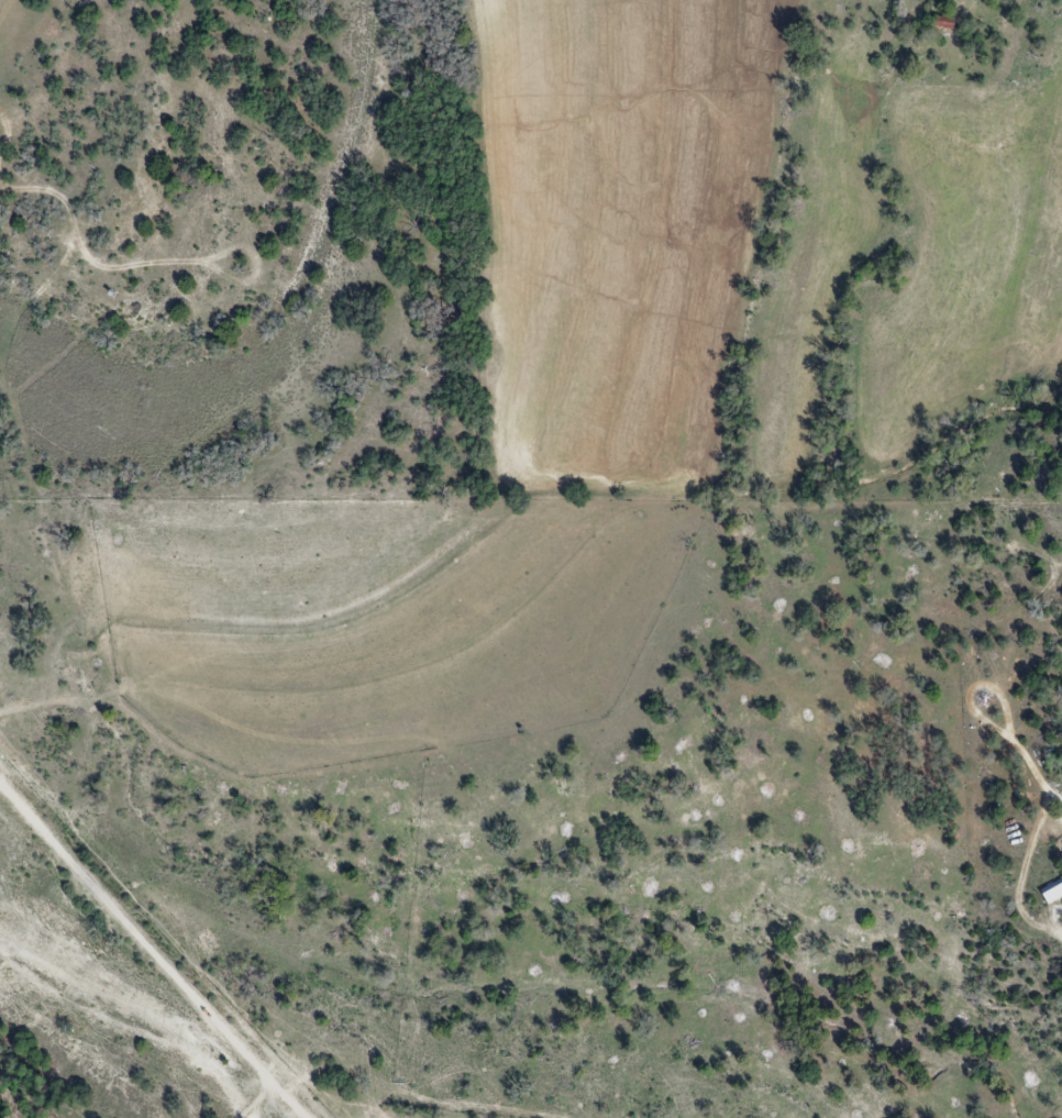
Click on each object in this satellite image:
road: (1036, 765)
building: (1057, 892)

